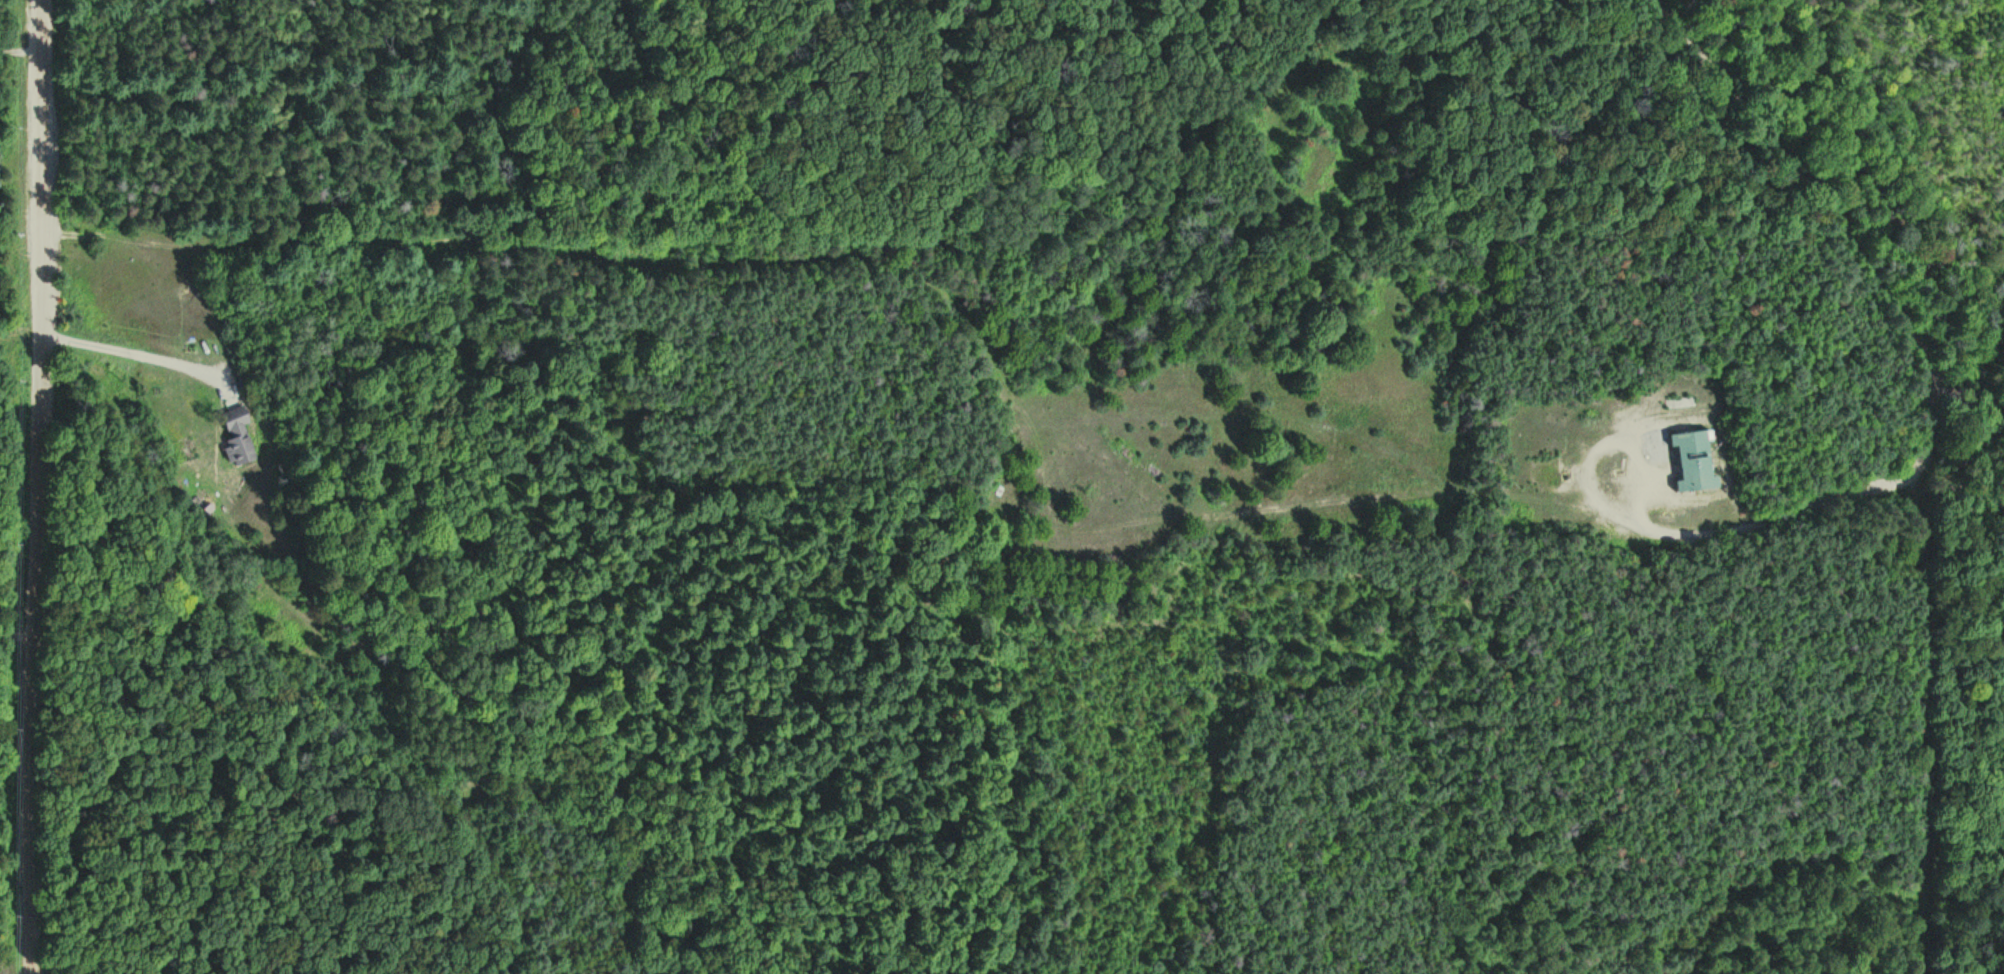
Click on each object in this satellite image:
road: (1835, 220)
building: (240, 436)
building: (1689, 457)
road: (32, 487)
road: (1802, 507)
road: (310, 812)

